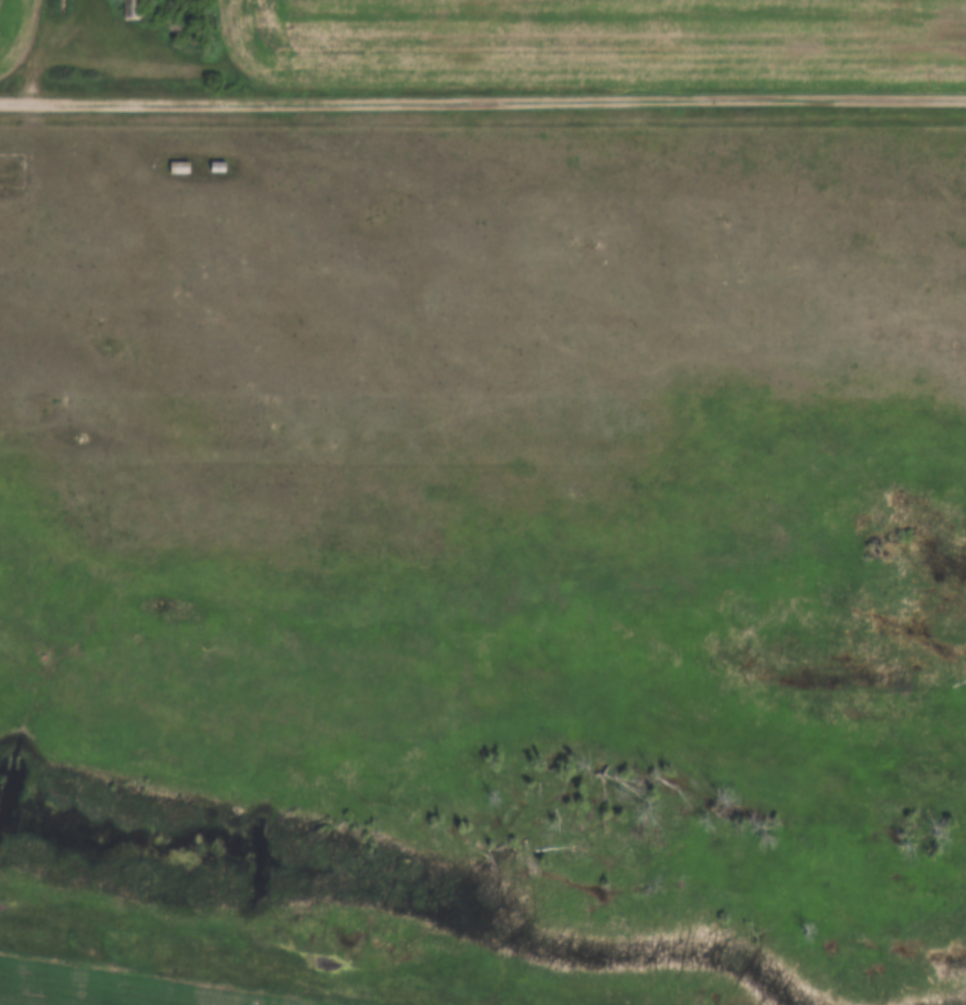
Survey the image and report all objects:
road: (45, 41)
road: (482, 97)
building: (177, 168)
building: (216, 168)

